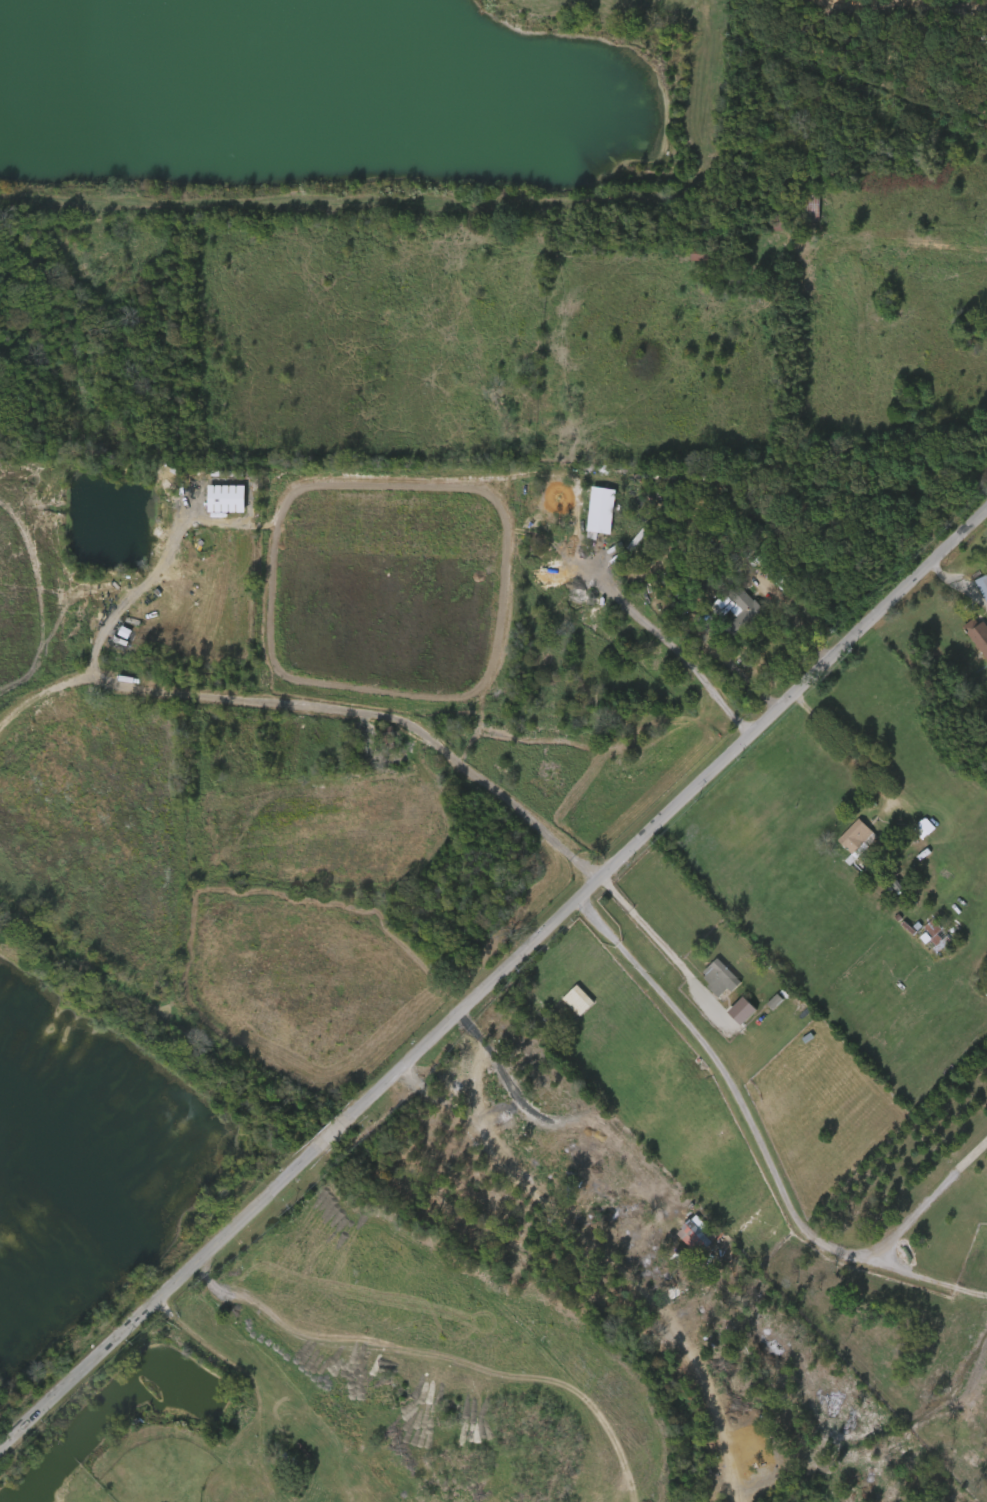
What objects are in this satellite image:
building: (811, 208)
building: (779, 223)
building: (727, 258)
building: (213, 503)
building: (588, 514)
building: (683, 589)
building: (973, 592)
building: (744, 610)
building: (726, 615)
building: (978, 634)
building: (971, 644)
road: (654, 647)
road: (324, 705)
road: (837, 749)
building: (910, 832)
building: (859, 839)
building: (842, 840)
building: (934, 934)
building: (921, 940)
road: (659, 942)
road: (492, 968)
building: (722, 978)
building: (706, 981)
building: (579, 999)
building: (729, 1014)
road: (756, 1168)
road: (204, 1339)
road: (304, 1435)
road: (261, 1442)

